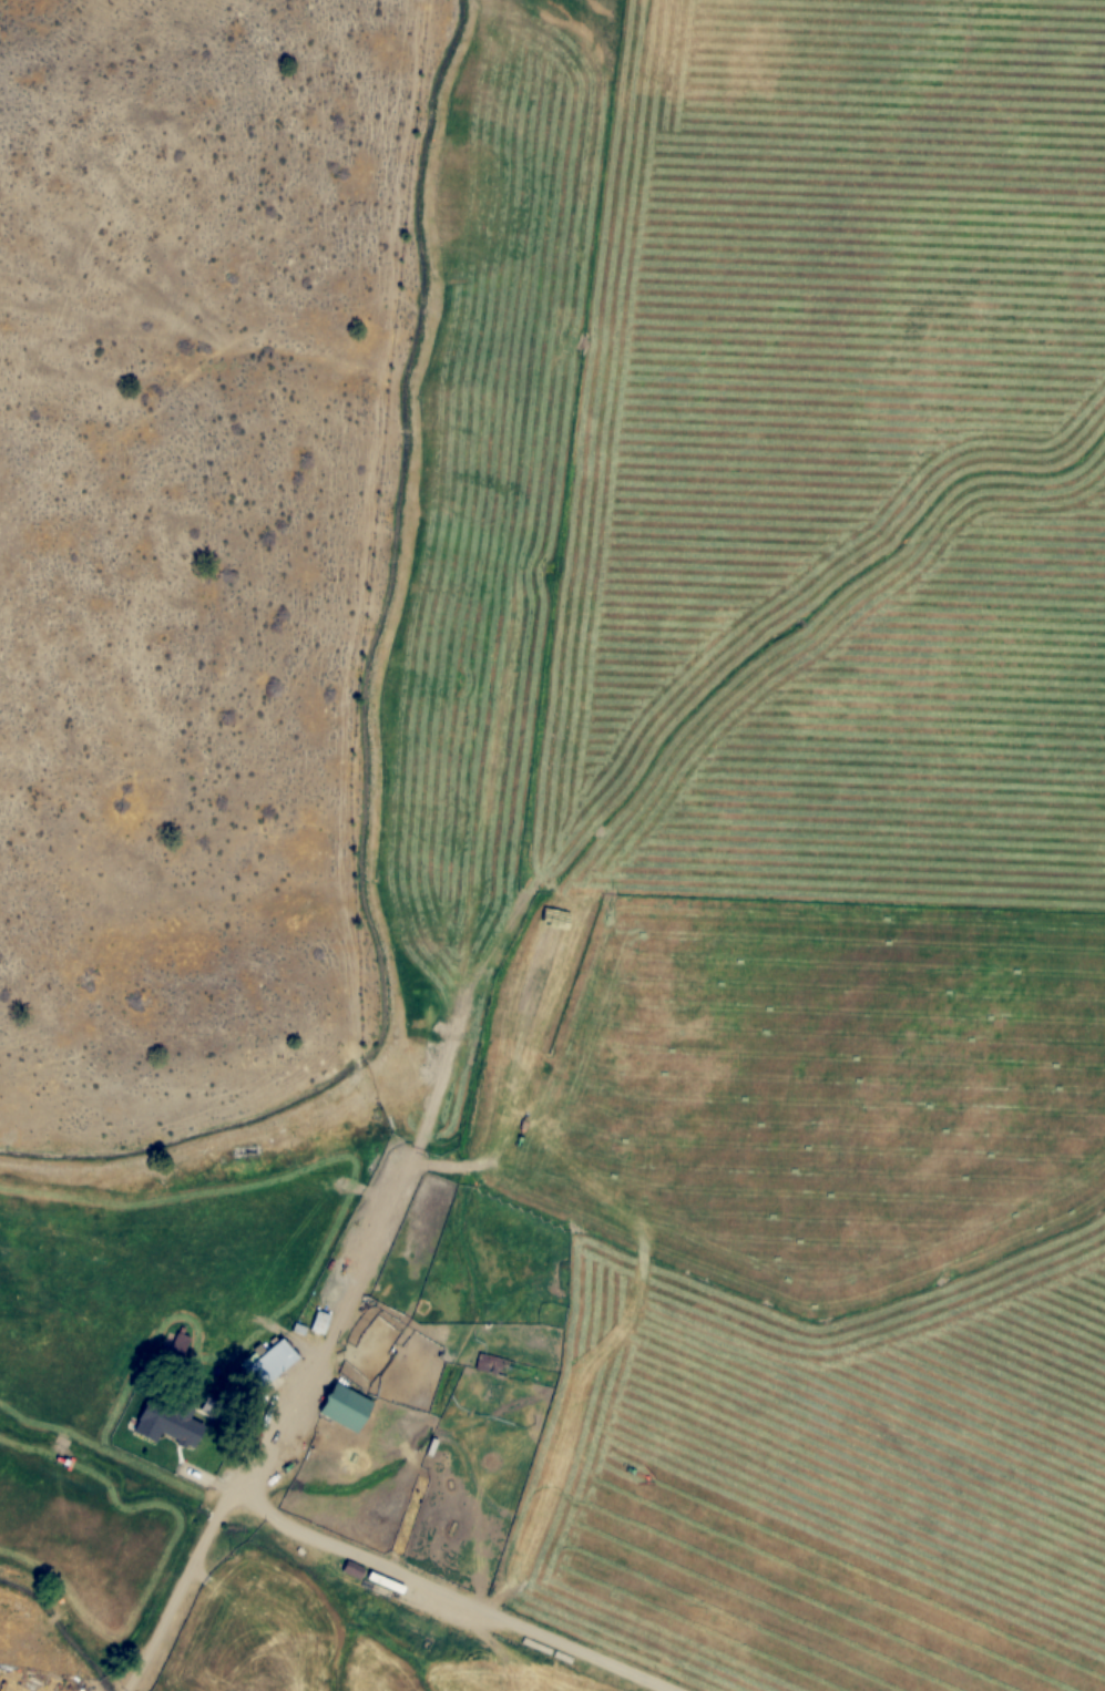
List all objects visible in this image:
building: (320, 1321)
building: (273, 1363)
building: (490, 1363)
building: (211, 1405)
building: (348, 1408)
building: (191, 1429)
road: (356, 1546)
building: (352, 1569)

